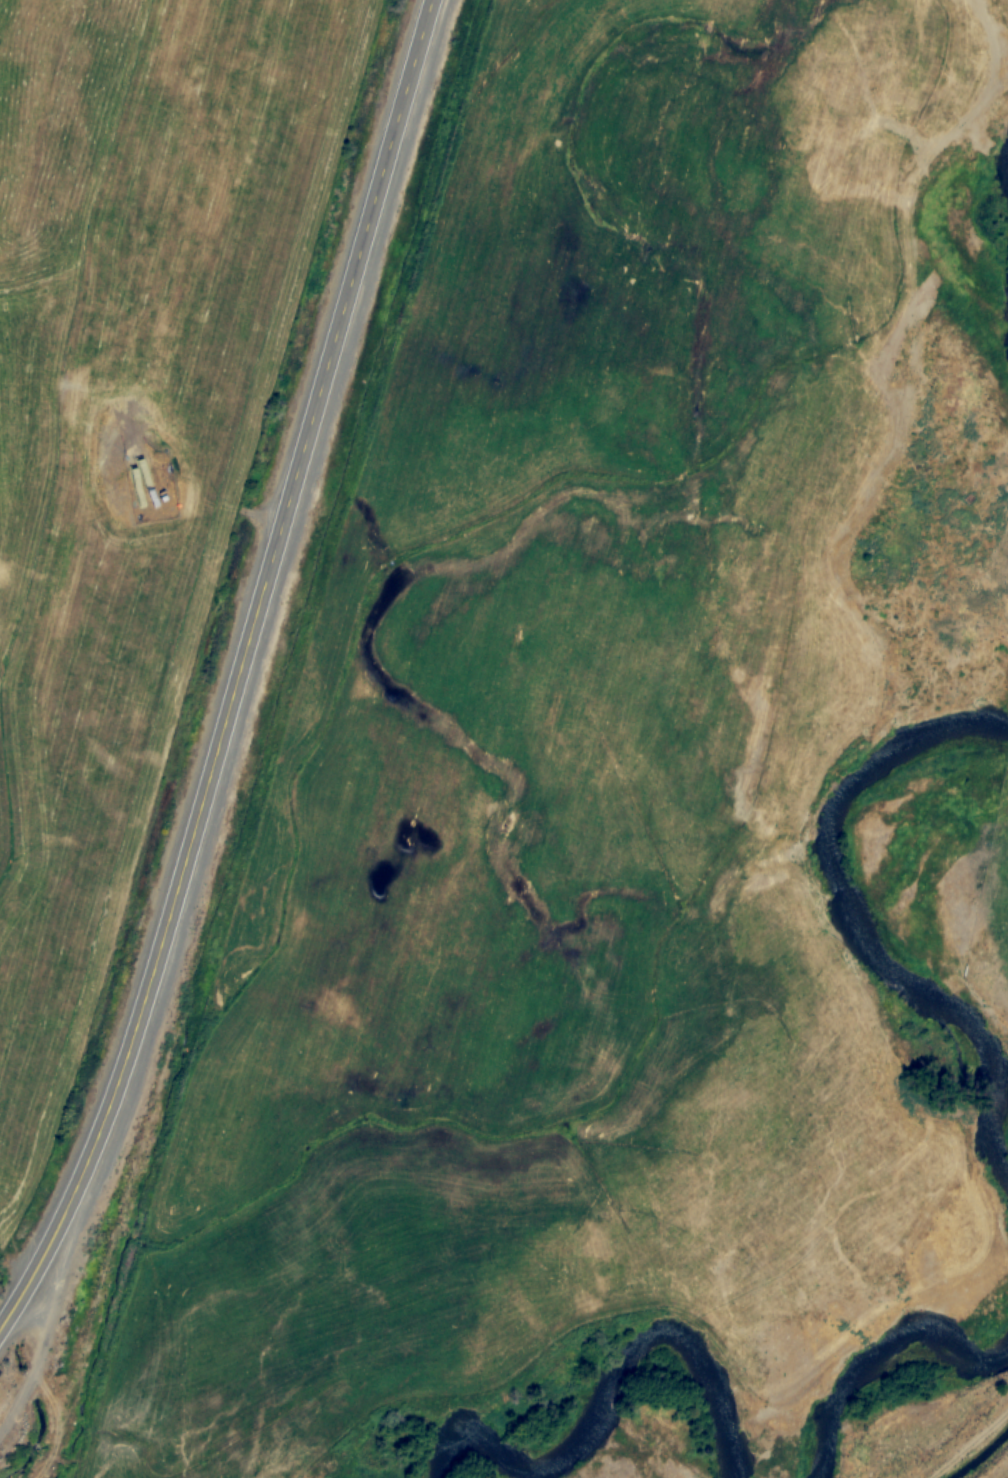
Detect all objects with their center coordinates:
road: (237, 671)
river: (859, 919)
river: (879, 1360)
river: (602, 1392)

